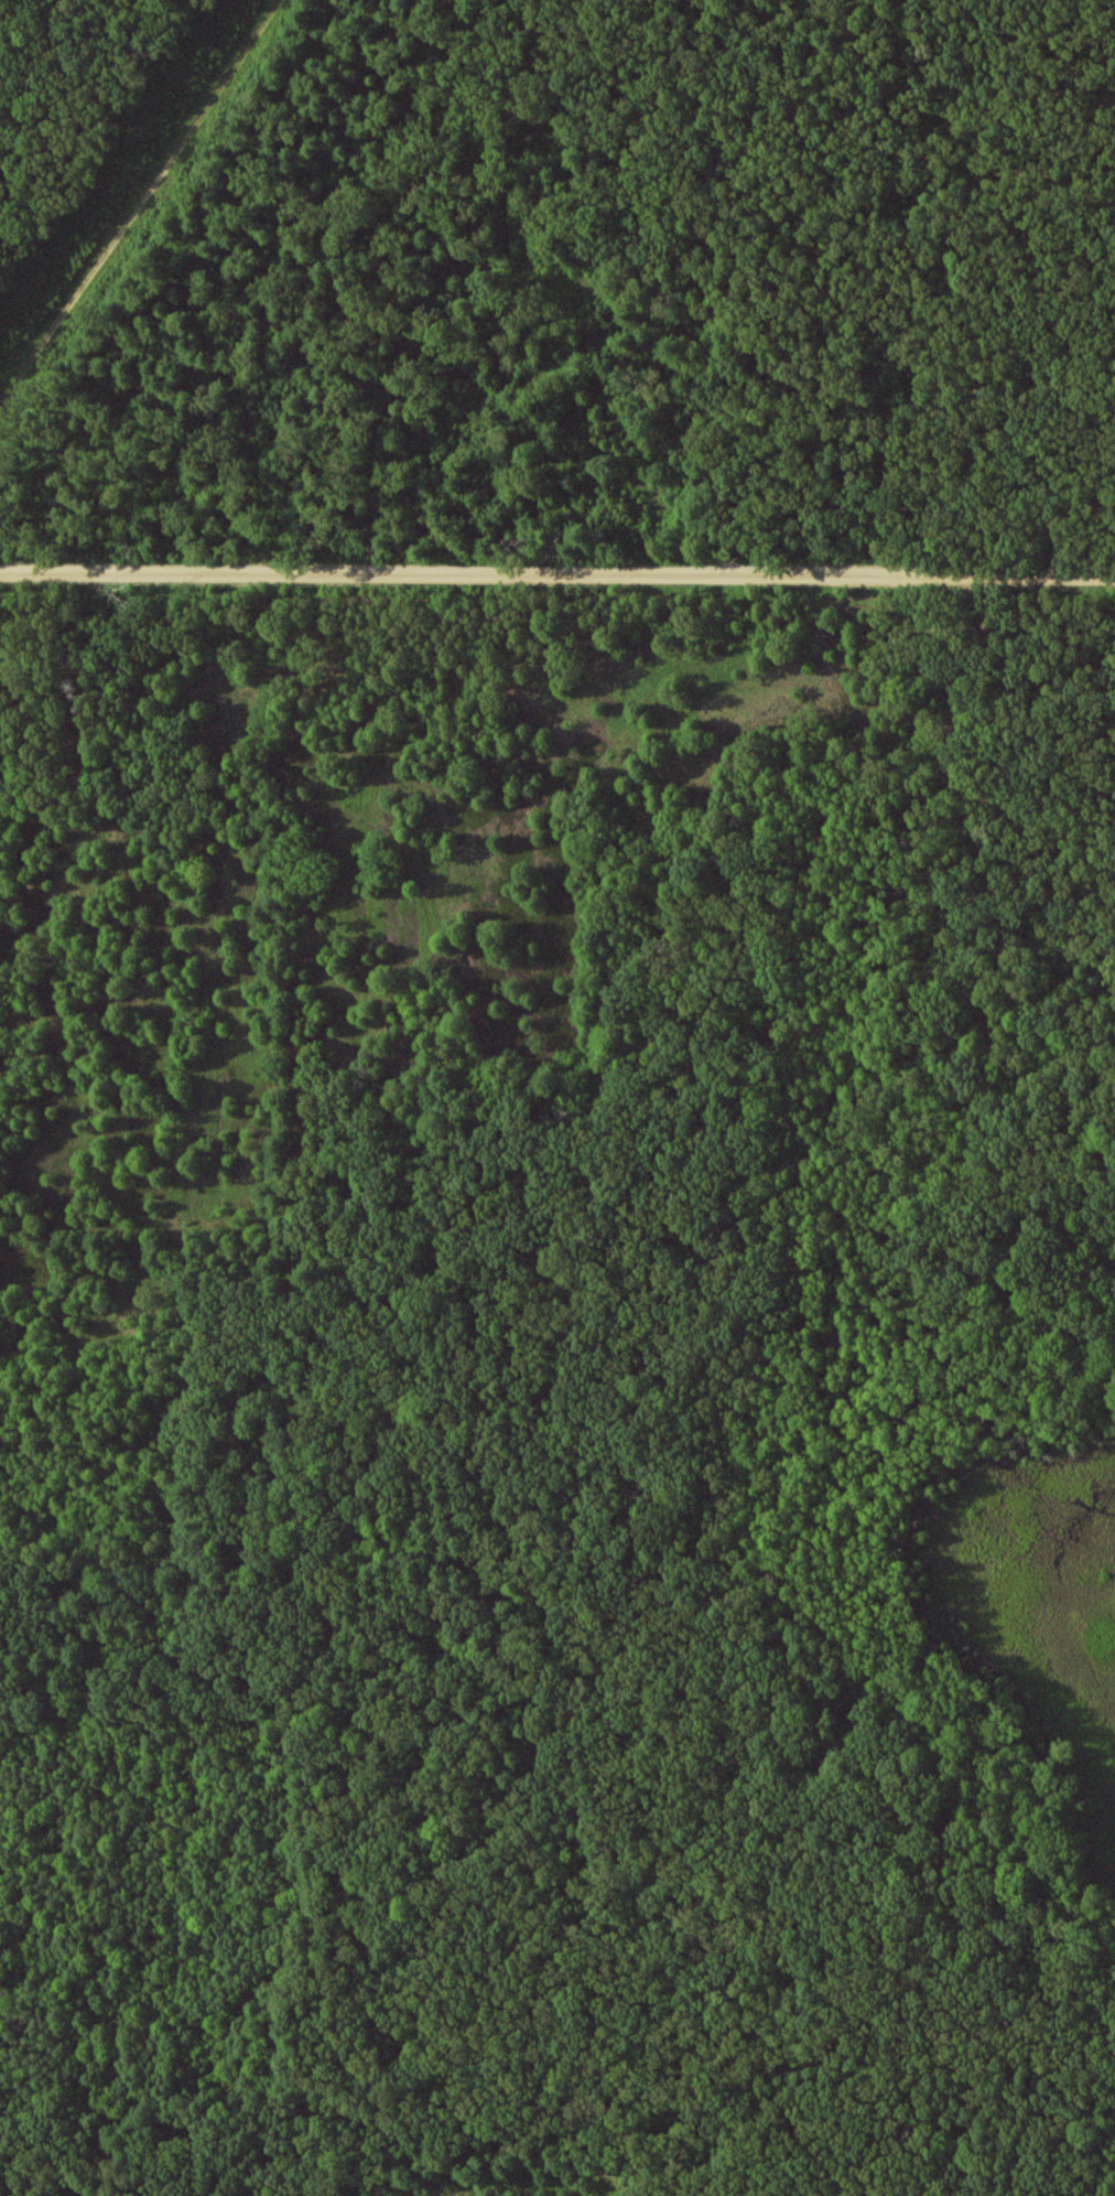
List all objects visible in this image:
road: (557, 579)

